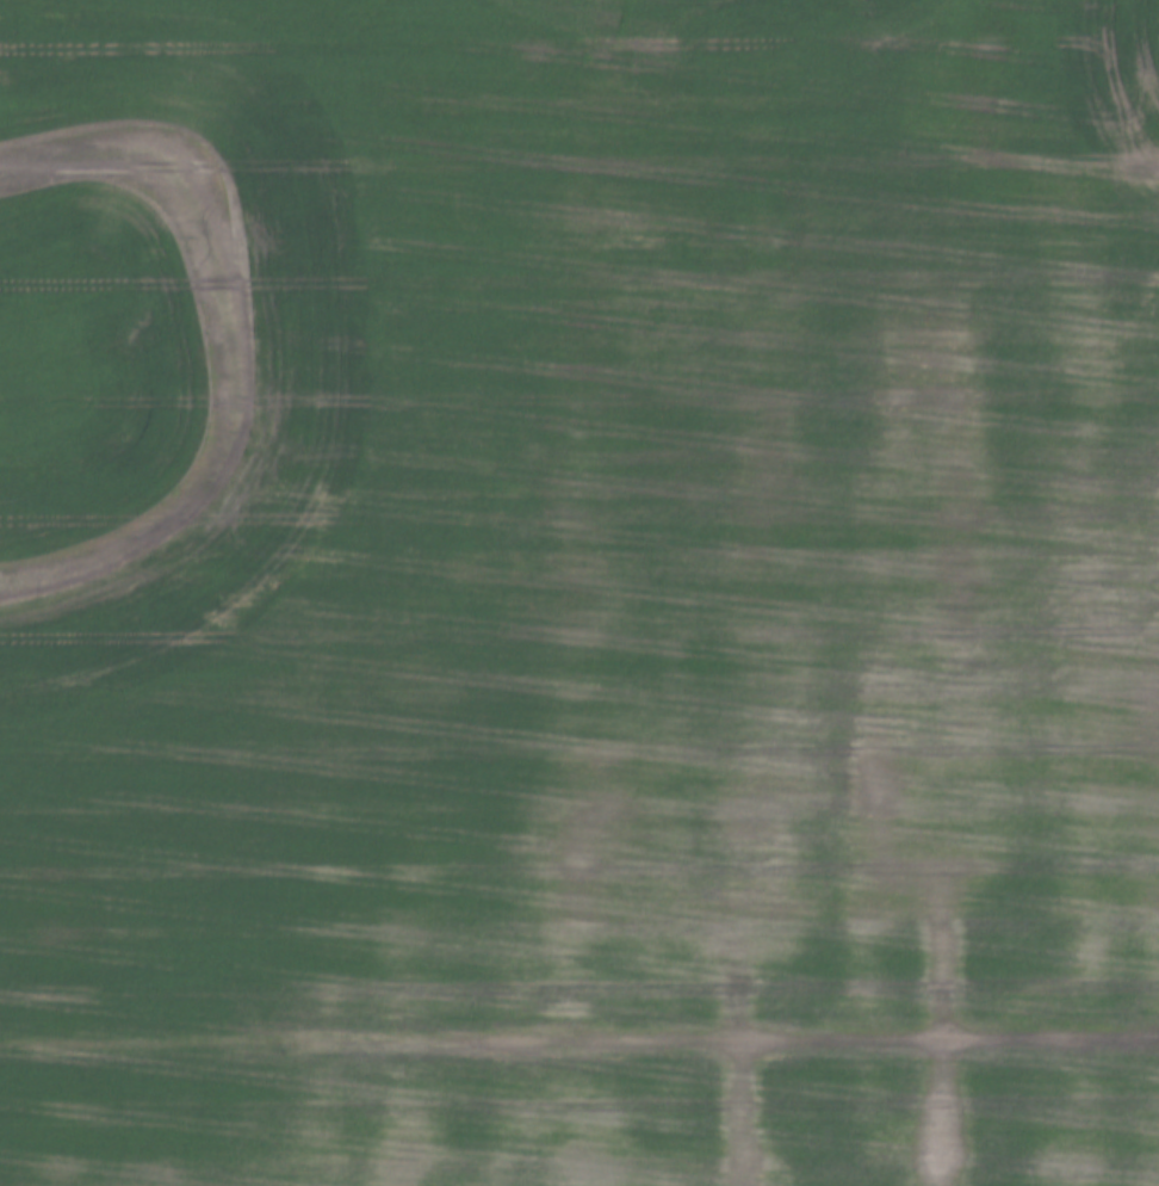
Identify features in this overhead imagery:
crop: (579, 593)

